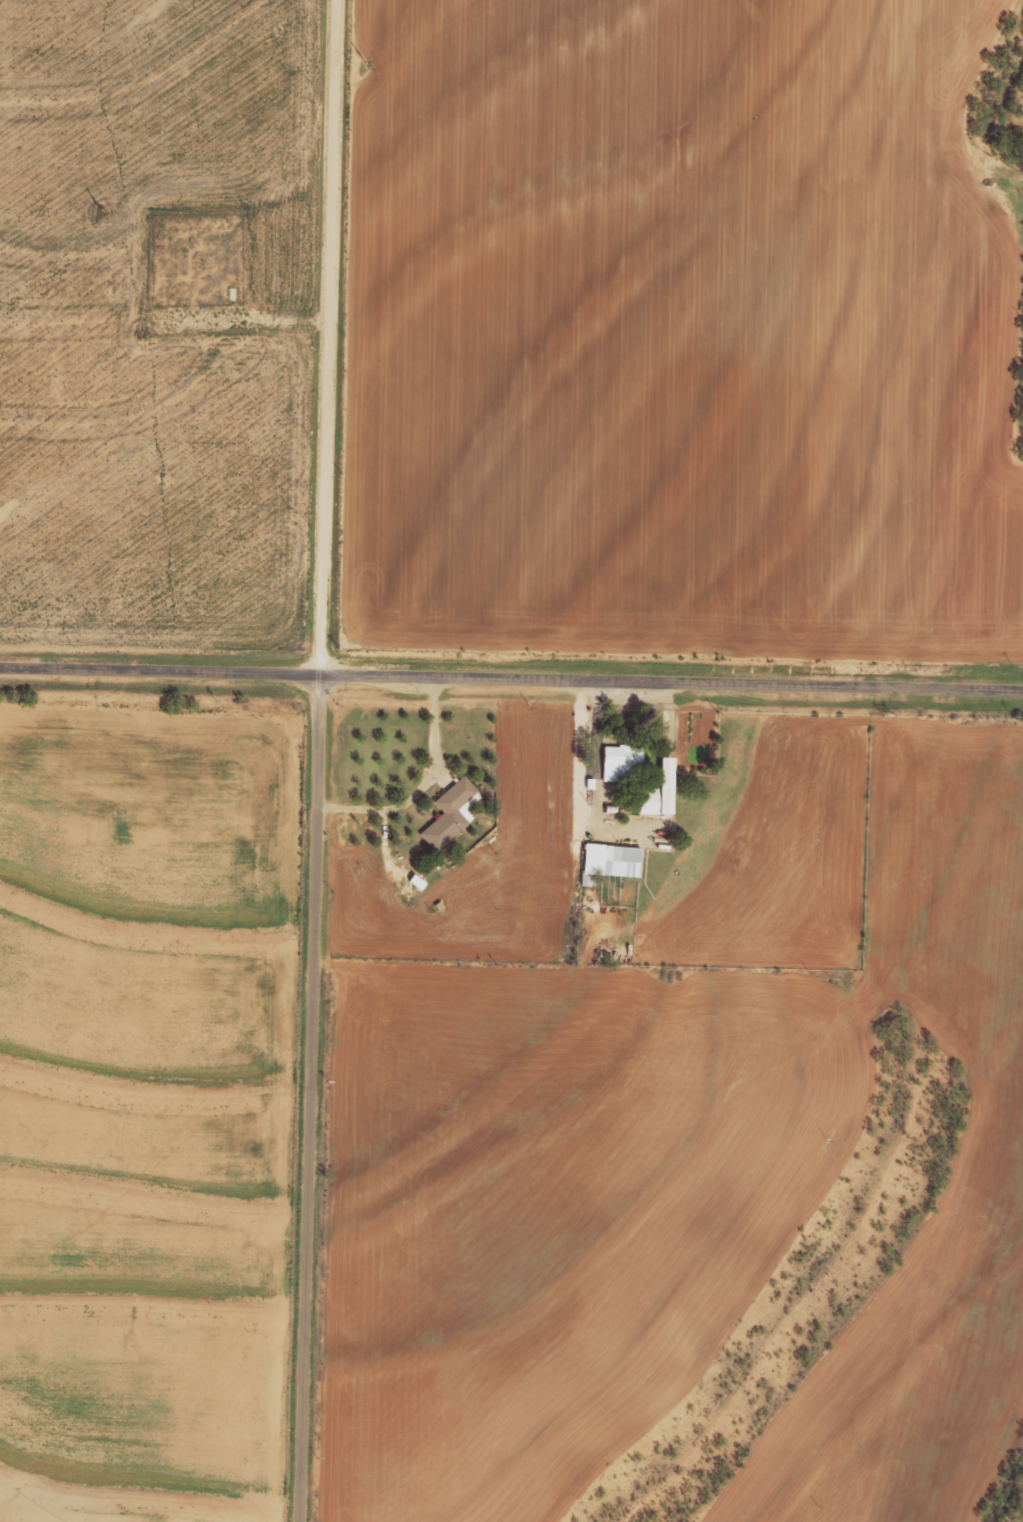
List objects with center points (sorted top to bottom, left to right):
power tower: (367, 66)
power tower: (102, 213)
park: (195, 259)
road: (511, 677)
road: (319, 760)
building: (618, 763)
building: (657, 790)
building: (447, 813)
building: (606, 861)
road: (34, 1507)

